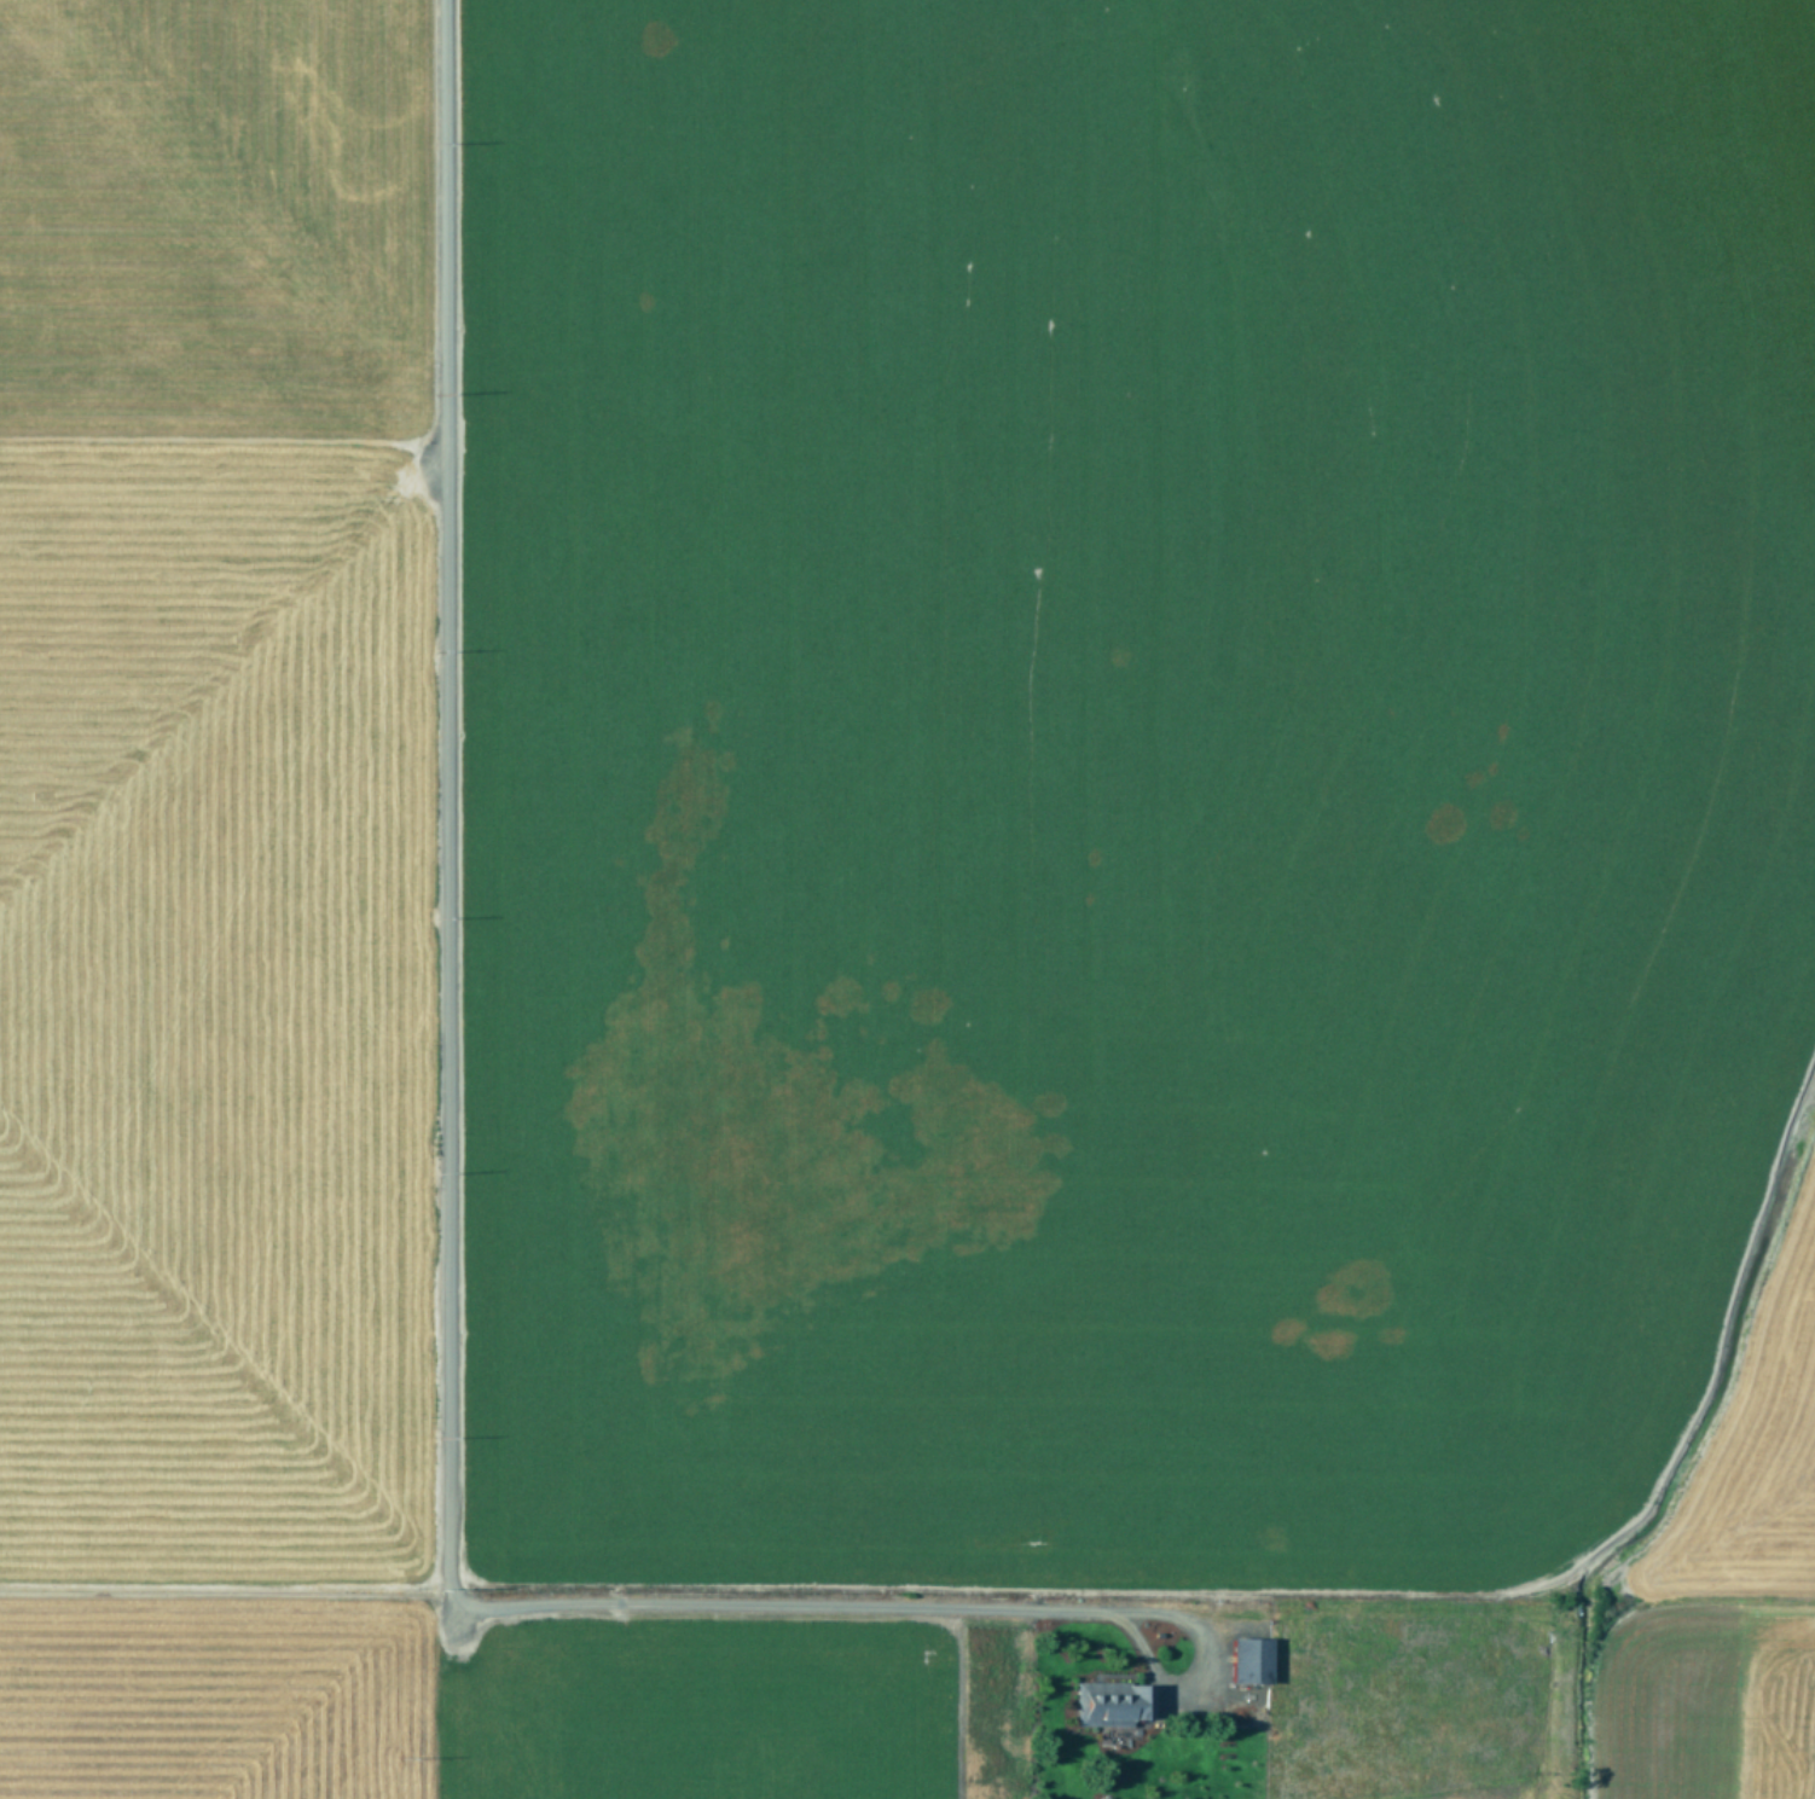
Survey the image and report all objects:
crop: (907, 899)
road: (451, 1127)
building: (1251, 1660)
road: (1196, 1666)

